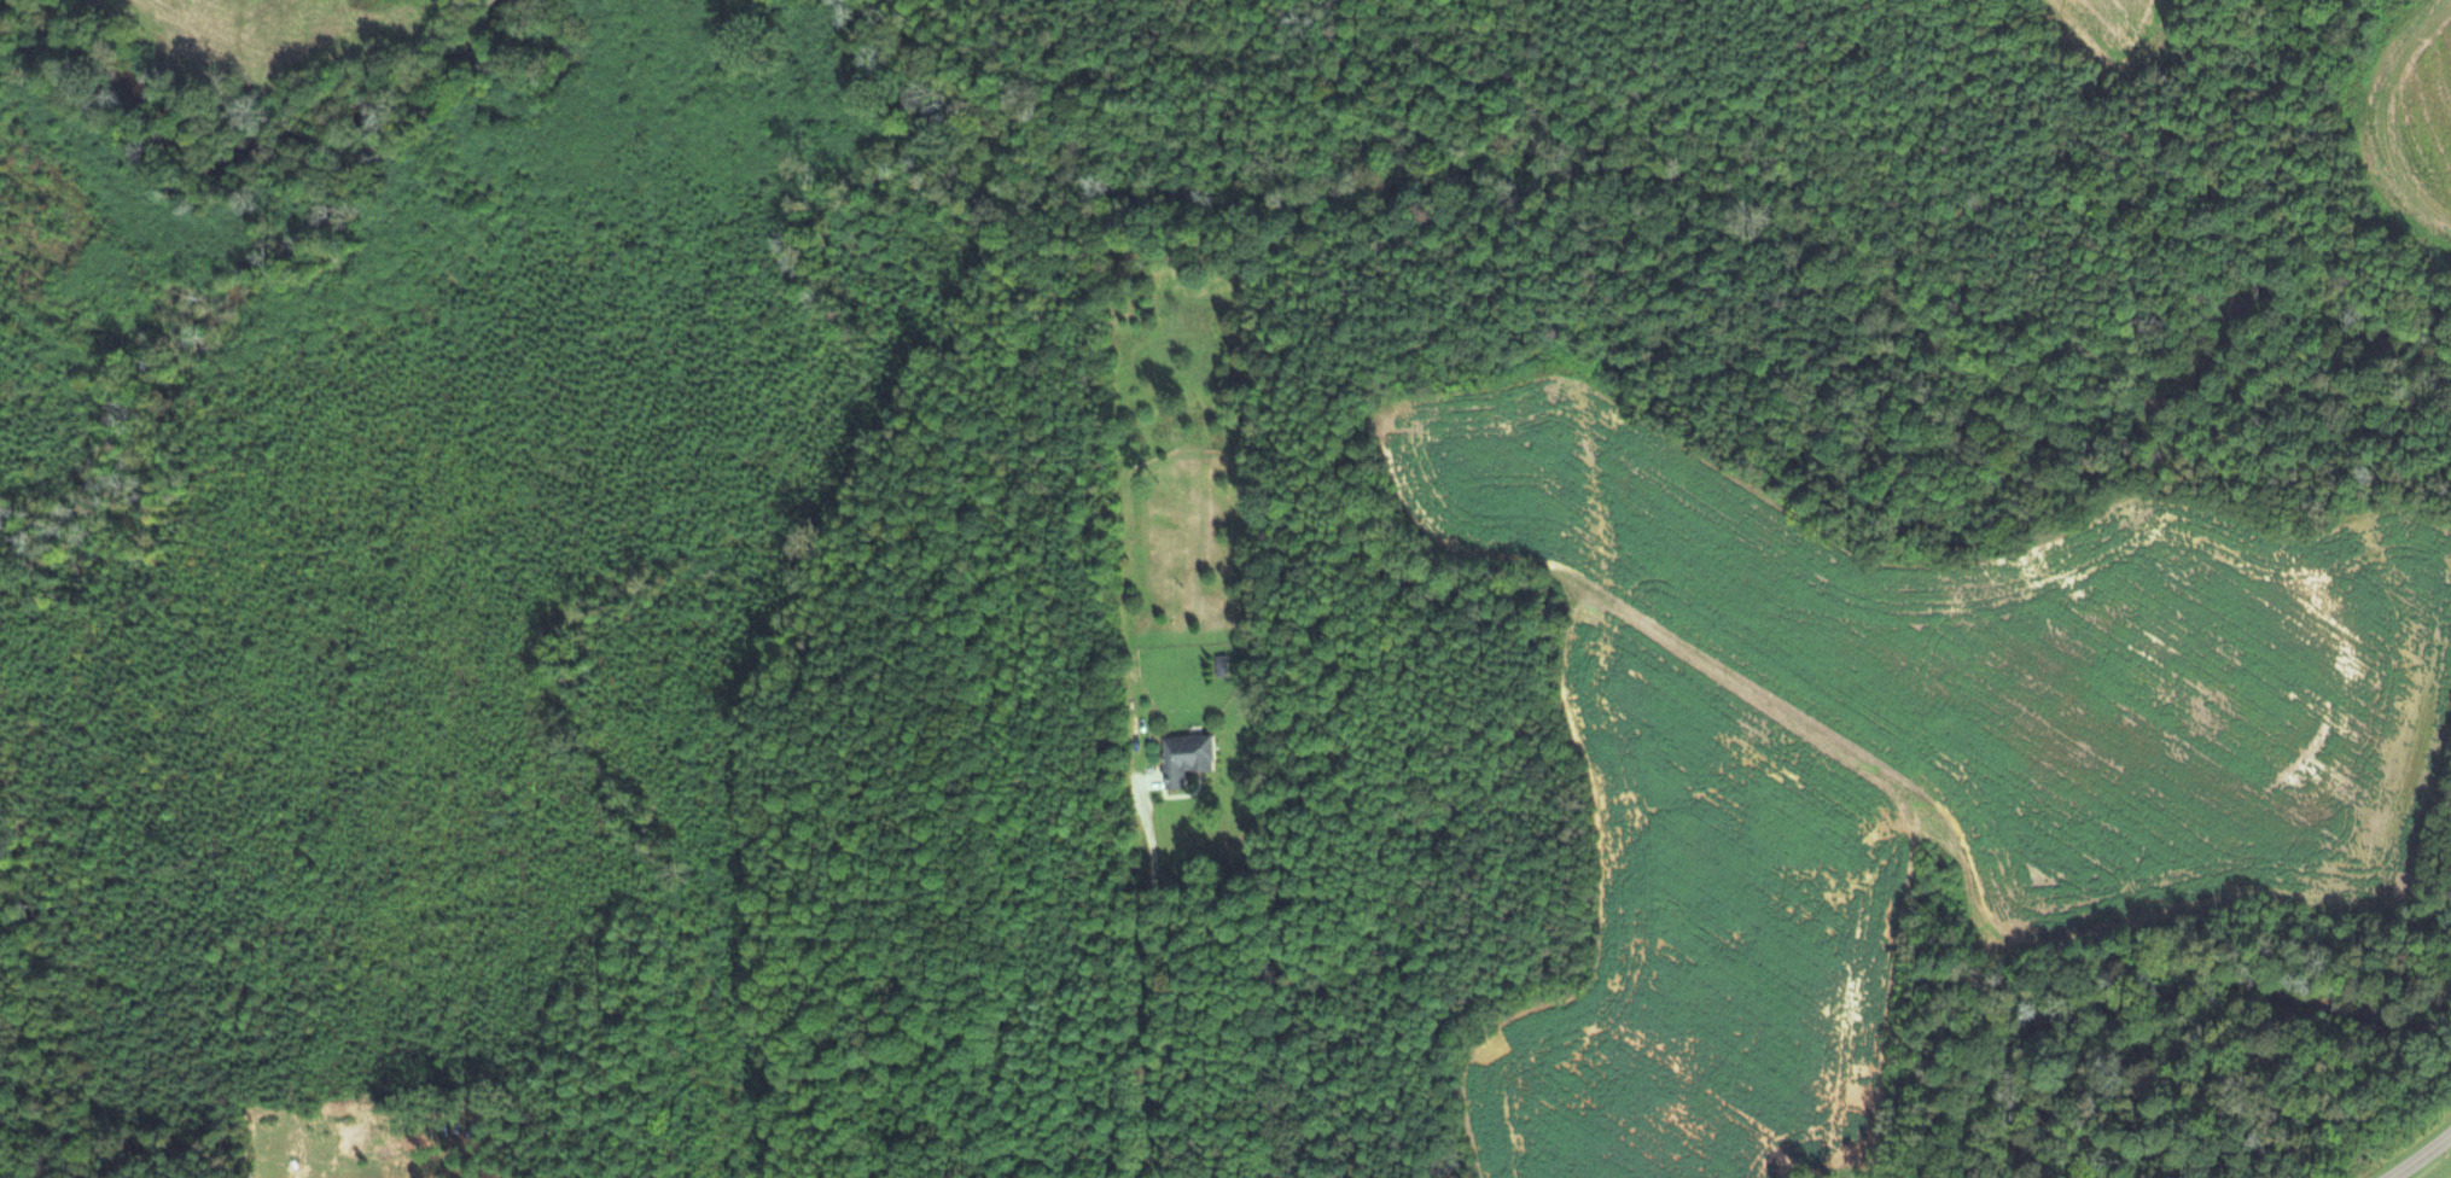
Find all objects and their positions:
road: (1155, 980)
road: (2421, 1157)

